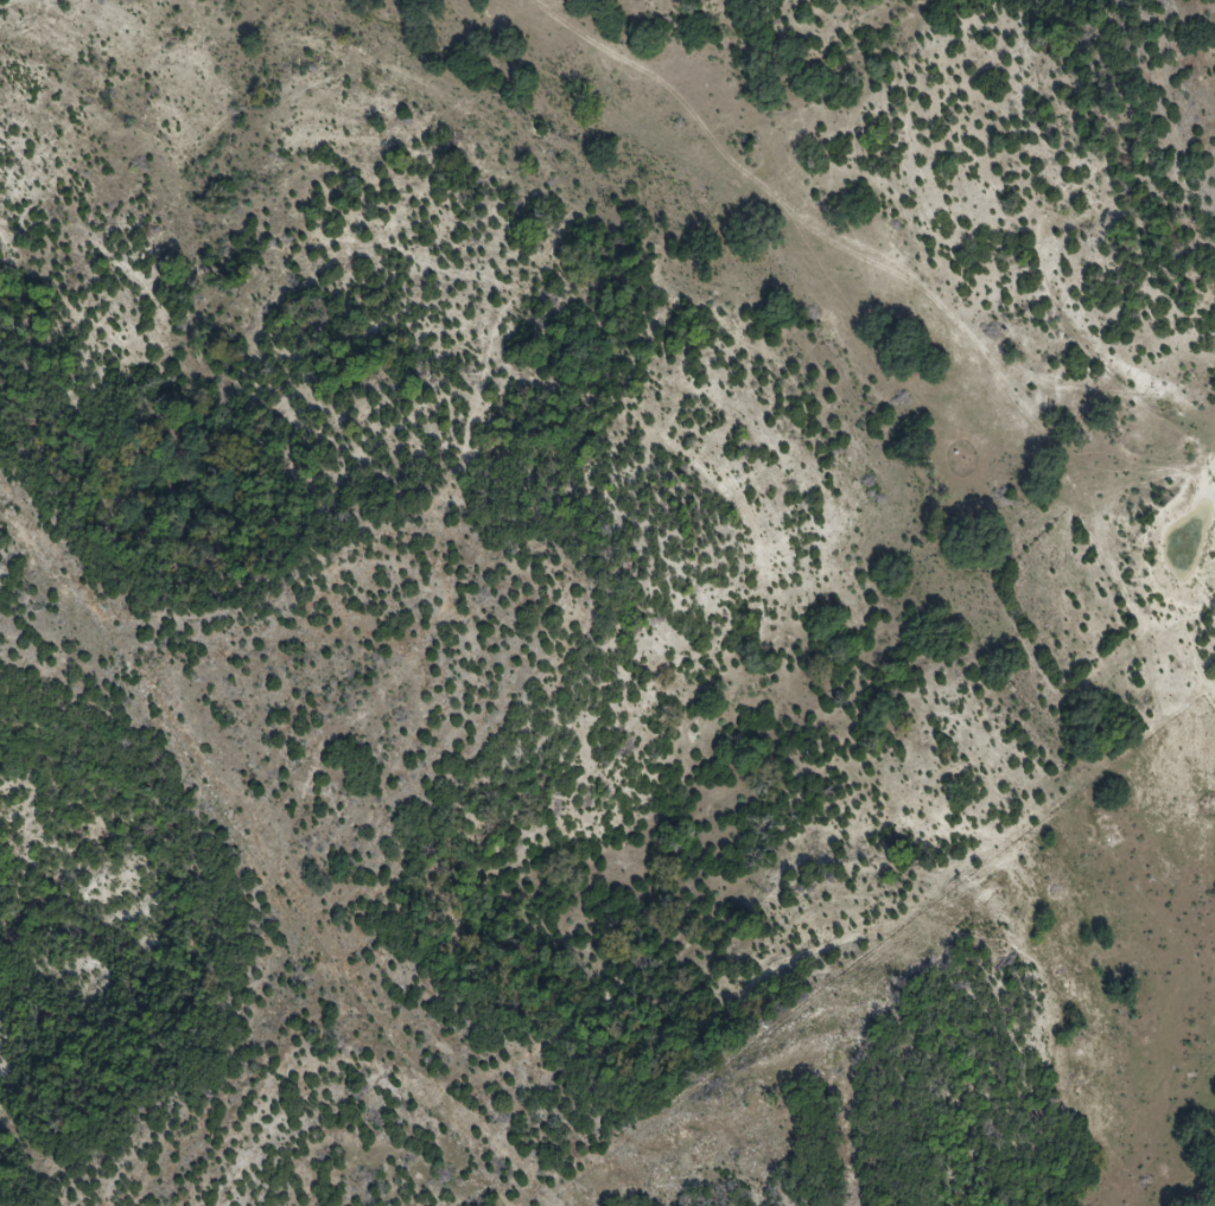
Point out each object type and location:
road: (879, 248)

